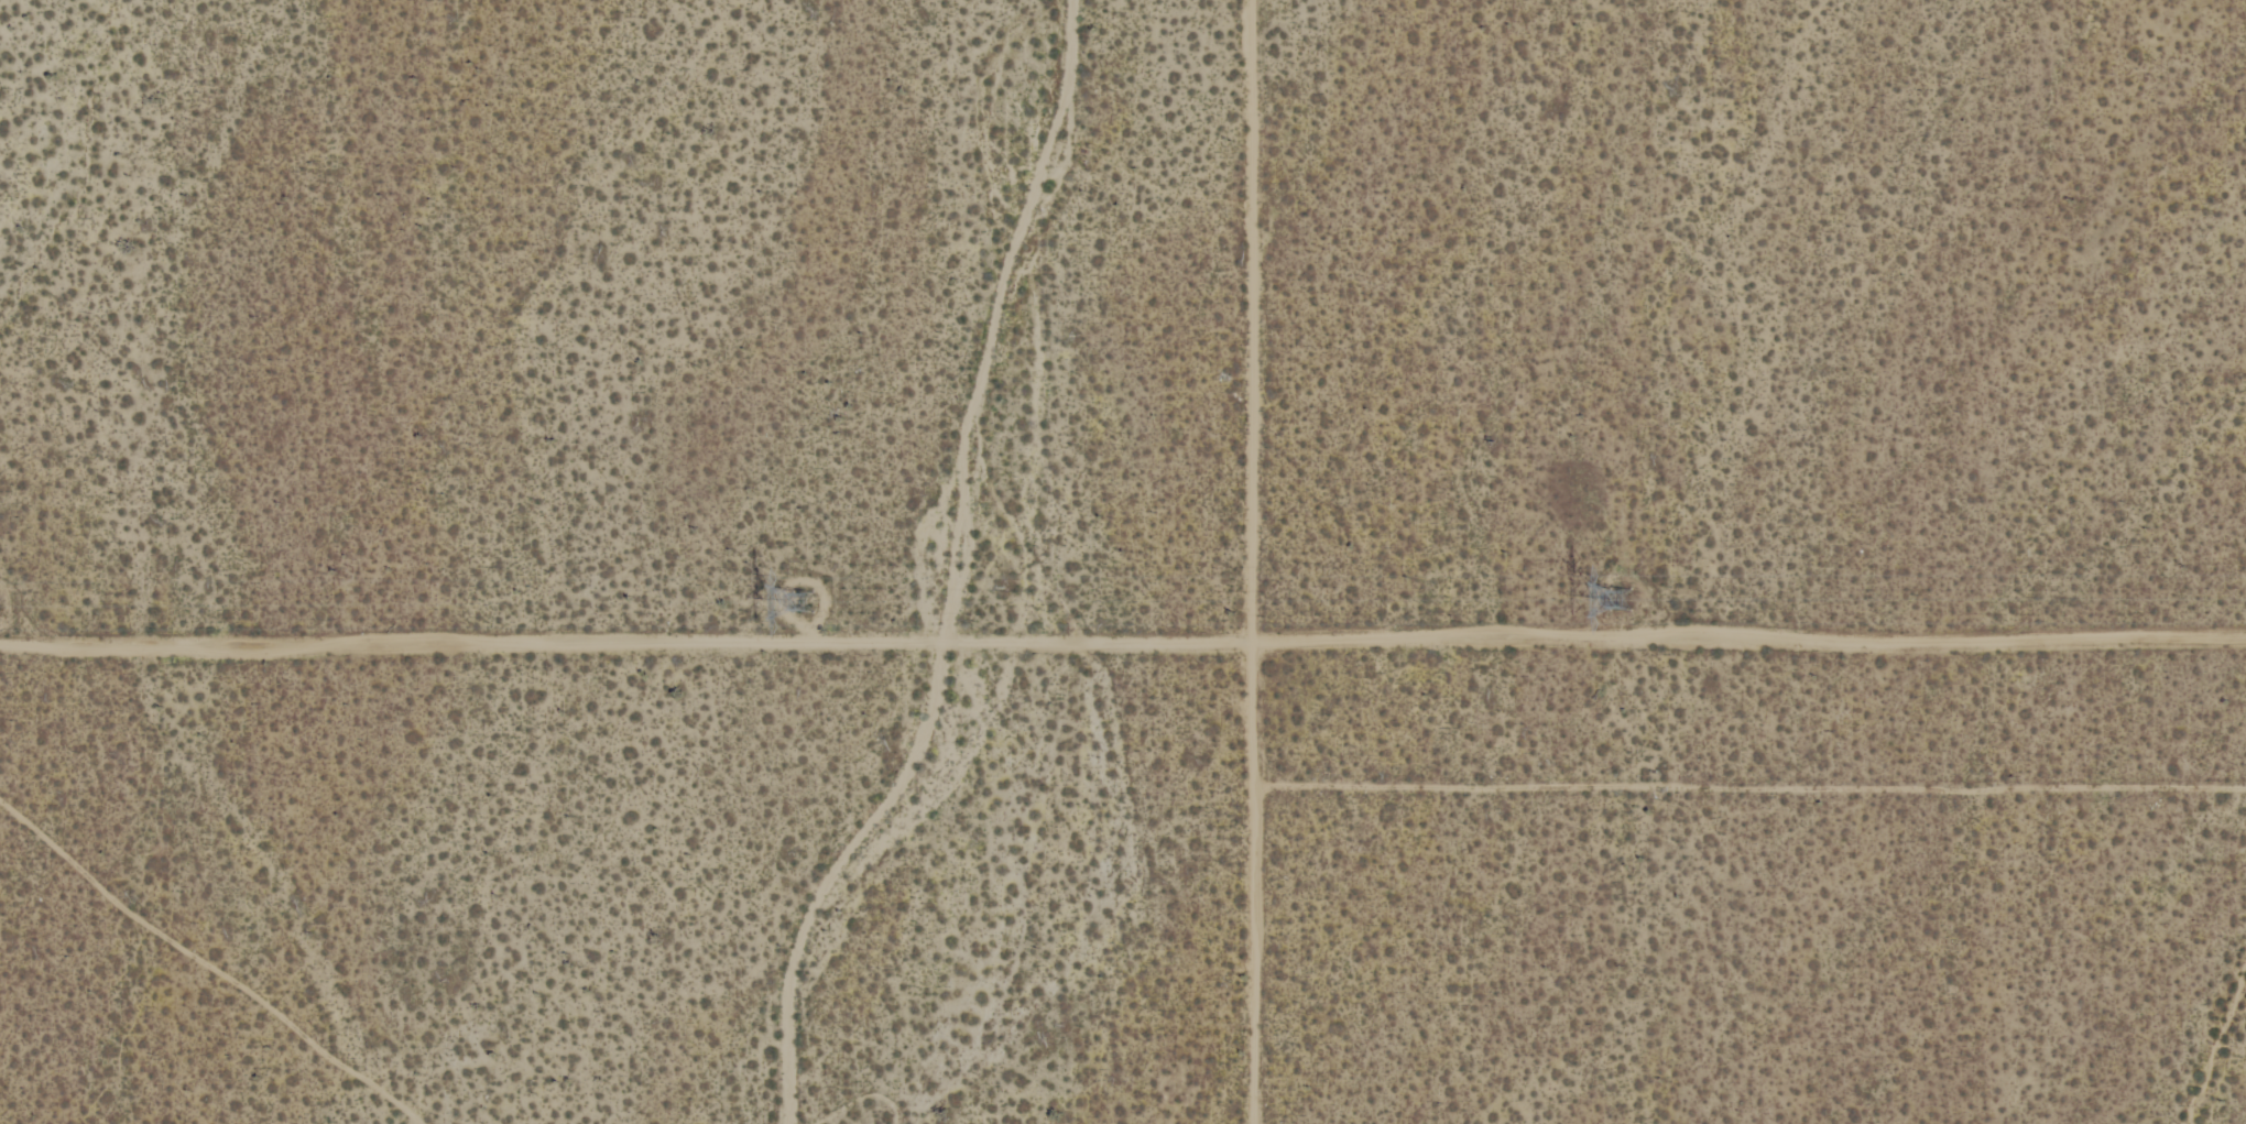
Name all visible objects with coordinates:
road: (1264, 561)
power tower: (1612, 596)
power tower: (805, 599)
road: (1755, 636)

